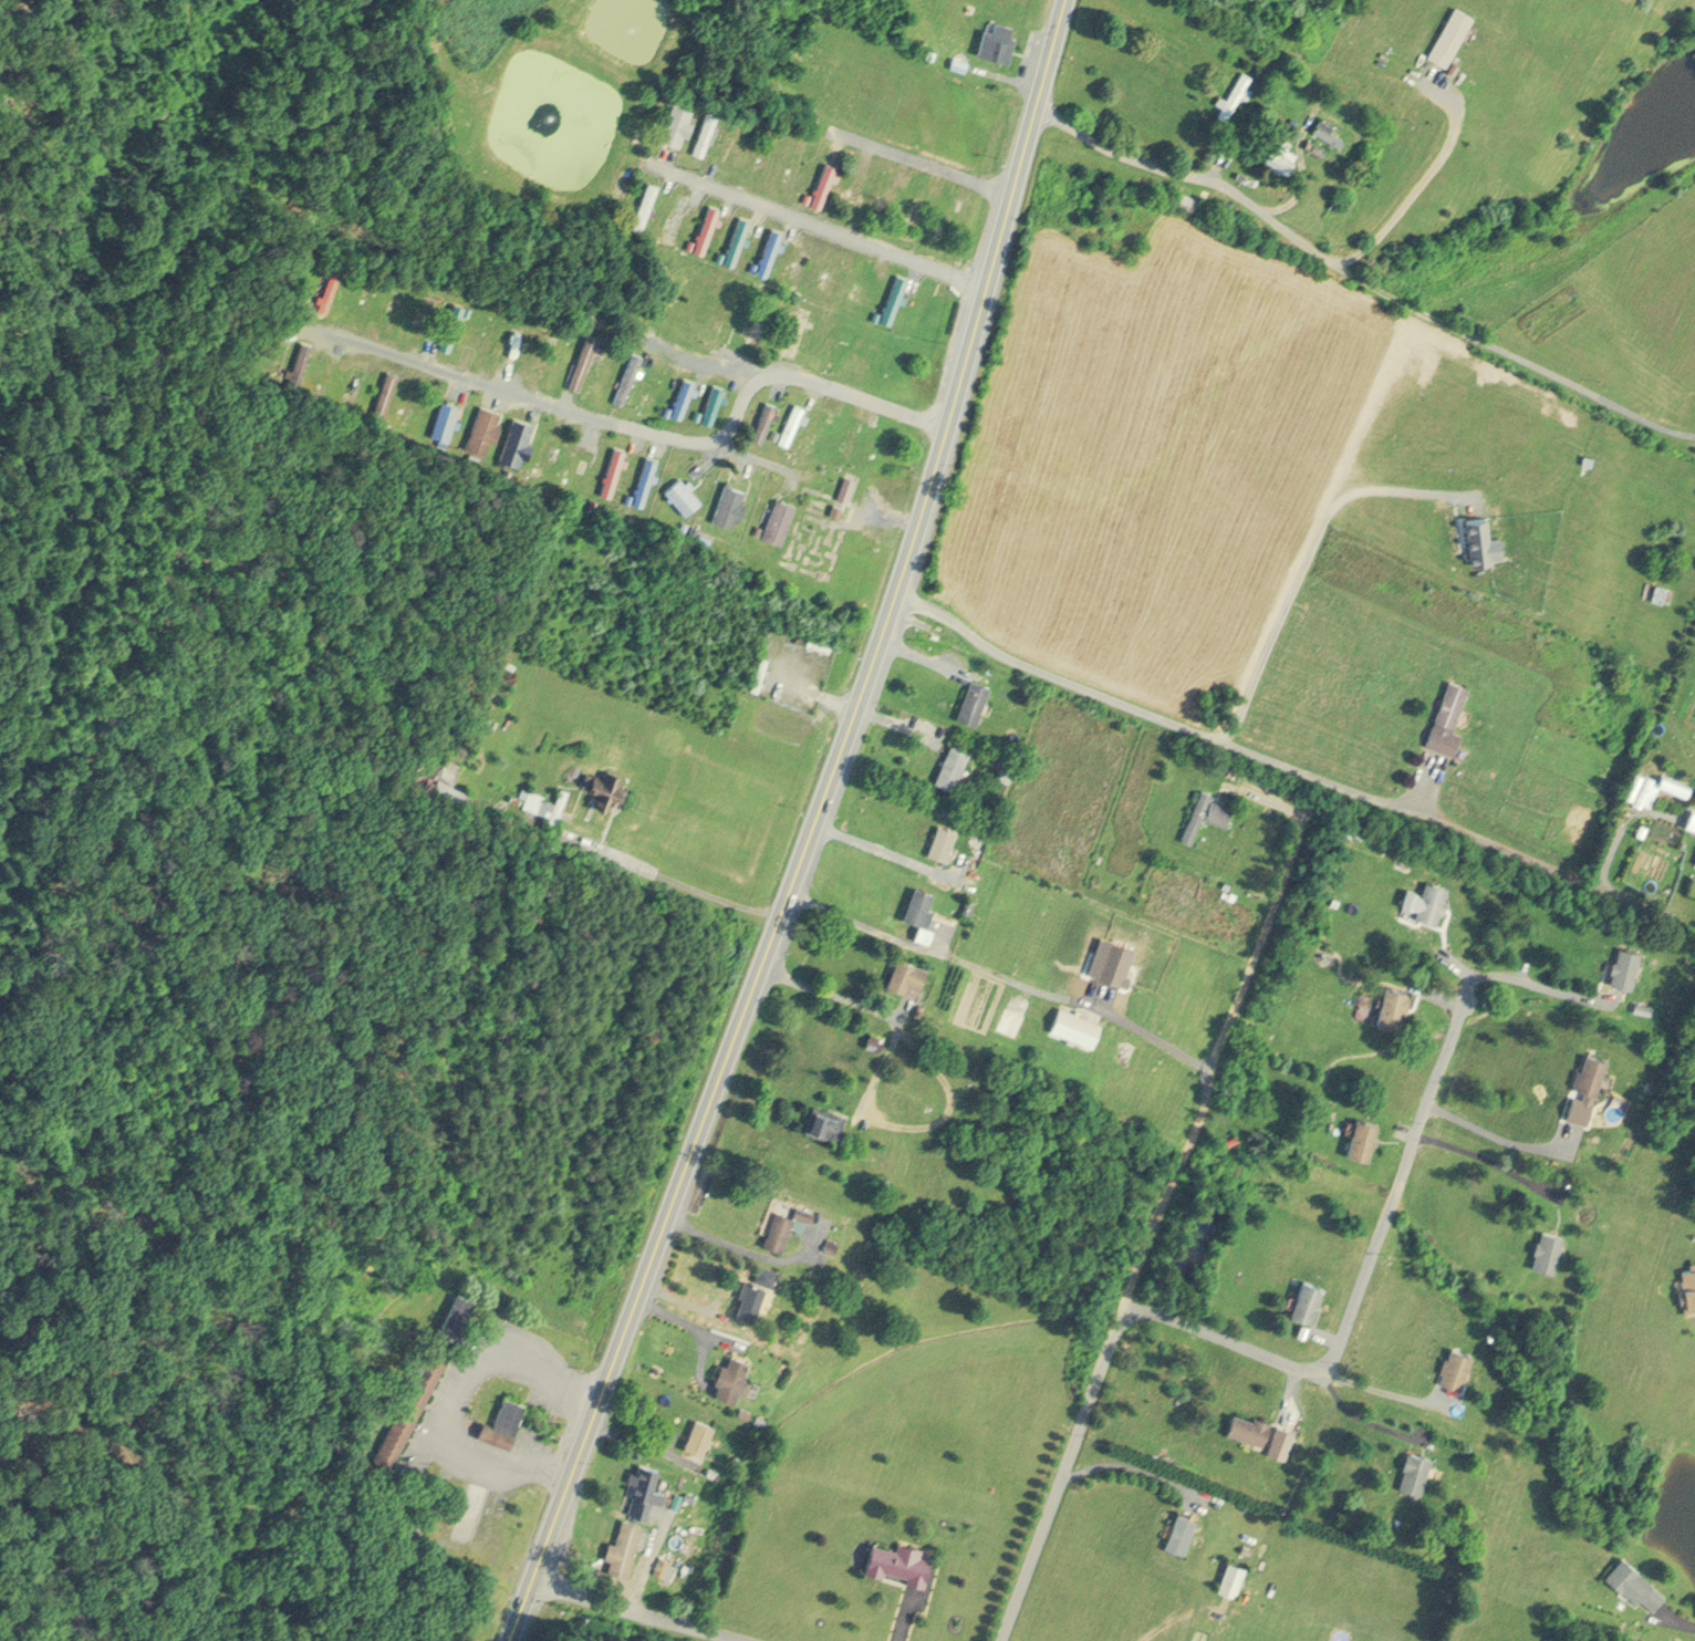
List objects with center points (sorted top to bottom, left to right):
building: (970, 3)
building: (1452, 33)
building: (998, 37)
building: (959, 60)
building: (791, 89)
building: (1233, 94)
building: (677, 121)
building: (1329, 128)
building: (706, 131)
building: (1283, 149)
road: (1221, 154)
road: (925, 160)
building: (824, 180)
road: (1420, 184)
building: (808, 193)
road: (1287, 195)
building: (645, 202)
building: (677, 214)
road: (819, 222)
building: (707, 225)
building: (659, 229)
building: (738, 236)
building: (691, 240)
building: (771, 248)
building: (720, 252)
building: (753, 262)
road: (1360, 278)
building: (330, 285)
building: (895, 294)
building: (876, 311)
building: (760, 315)
building: (450, 321)
building: (799, 329)
building: (513, 345)
building: (298, 356)
building: (583, 359)
road: (705, 366)
building: (628, 374)
building: (655, 387)
building: (382, 390)
building: (685, 394)
building: (713, 399)
building: (668, 406)
building: (697, 411)
building: (766, 416)
building: (445, 417)
building: (791, 419)
building: (483, 424)
building: (817, 428)
building: (776, 429)
building: (517, 438)
road: (642, 439)
building: (819, 450)
building: (614, 466)
building: (646, 476)
building: (846, 484)
building: (683, 490)
building: (730, 501)
building: (836, 506)
building: (780, 516)
road: (888, 522)
building: (758, 526)
building: (1480, 538)
road: (1307, 557)
building: (1662, 591)
building: (777, 625)
building: (800, 635)
building: (819, 641)
road: (917, 652)
building: (760, 669)
building: (974, 698)
road: (841, 702)
building: (1449, 716)
road: (895, 719)
road: (1241, 741)
building: (953, 762)
building: (448, 765)
building: (1006, 771)
building: (1275, 781)
building: (605, 782)
building: (1640, 783)
building: (1675, 783)
building: (543, 800)
building: (1207, 811)
building: (1692, 819)
road: (810, 828)
building: (943, 839)
road: (876, 843)
road: (616, 851)
building: (1433, 899)
building: (921, 902)
building: (968, 903)
building: (924, 931)
building: (1626, 963)
road: (1462, 967)
building: (909, 972)
road: (1001, 976)
road: (1533, 978)
road: (1438, 990)
building: (1395, 1004)
road: (898, 1006)
building: (1011, 1018)
building: (1077, 1022)
building: (874, 1039)
building: (1592, 1070)
road: (939, 1072)
building: (825, 1119)
road: (1405, 1126)
road: (1496, 1132)
building: (1364, 1134)
building: (849, 1138)
road: (1484, 1154)
building: (804, 1208)
building: (779, 1226)
road: (1152, 1229)
building: (831, 1243)
road: (746, 1246)
building: (1548, 1247)
road: (1362, 1274)
building: (1688, 1287)
building: (755, 1288)
road: (716, 1295)
building: (1309, 1297)
road: (690, 1299)
road: (686, 1318)
road: (1324, 1332)
road: (700, 1354)
building: (1456, 1364)
building: (732, 1374)
road: (1375, 1383)
road: (1286, 1390)
road: (461, 1394)
building: (409, 1398)
parking lot: (430, 1405)
road: (1359, 1413)
building: (760, 1416)
building: (502, 1421)
building: (1249, 1424)
building: (699, 1432)
parking lot: (532, 1435)
road: (635, 1439)
road: (663, 1439)
road: (1131, 1464)
building: (1415, 1469)
building: (645, 1485)
building: (688, 1493)
building: (1181, 1528)
building: (624, 1545)
road: (645, 1558)
building: (900, 1558)
building: (663, 1564)
building: (1231, 1574)
building: (1636, 1581)
road: (642, 1609)
road: (903, 1616)
road: (1680, 1617)

